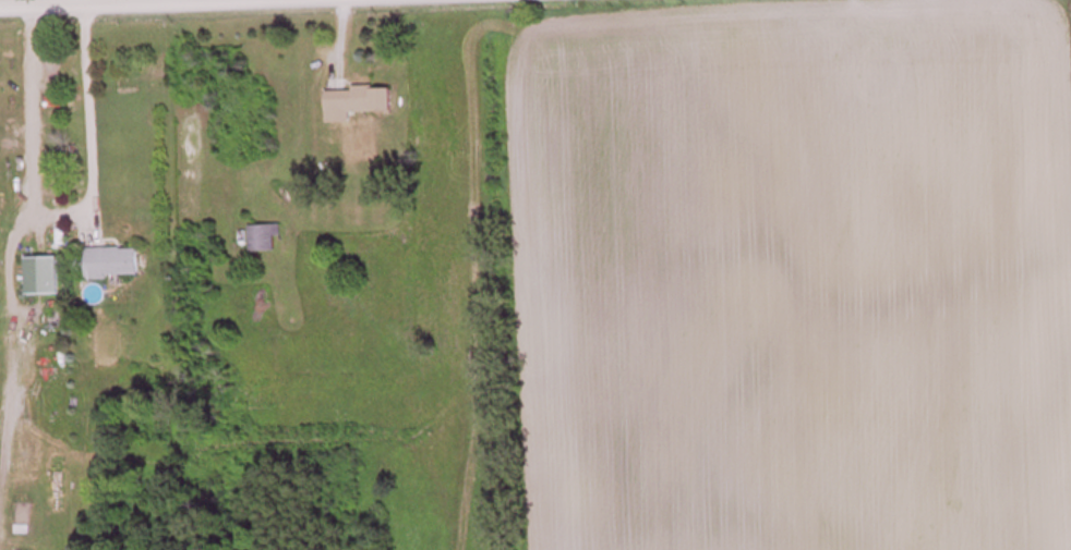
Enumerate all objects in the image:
road: (95, 2)
building: (362, 102)
road: (91, 112)
building: (266, 240)
building: (115, 264)
building: (44, 277)

